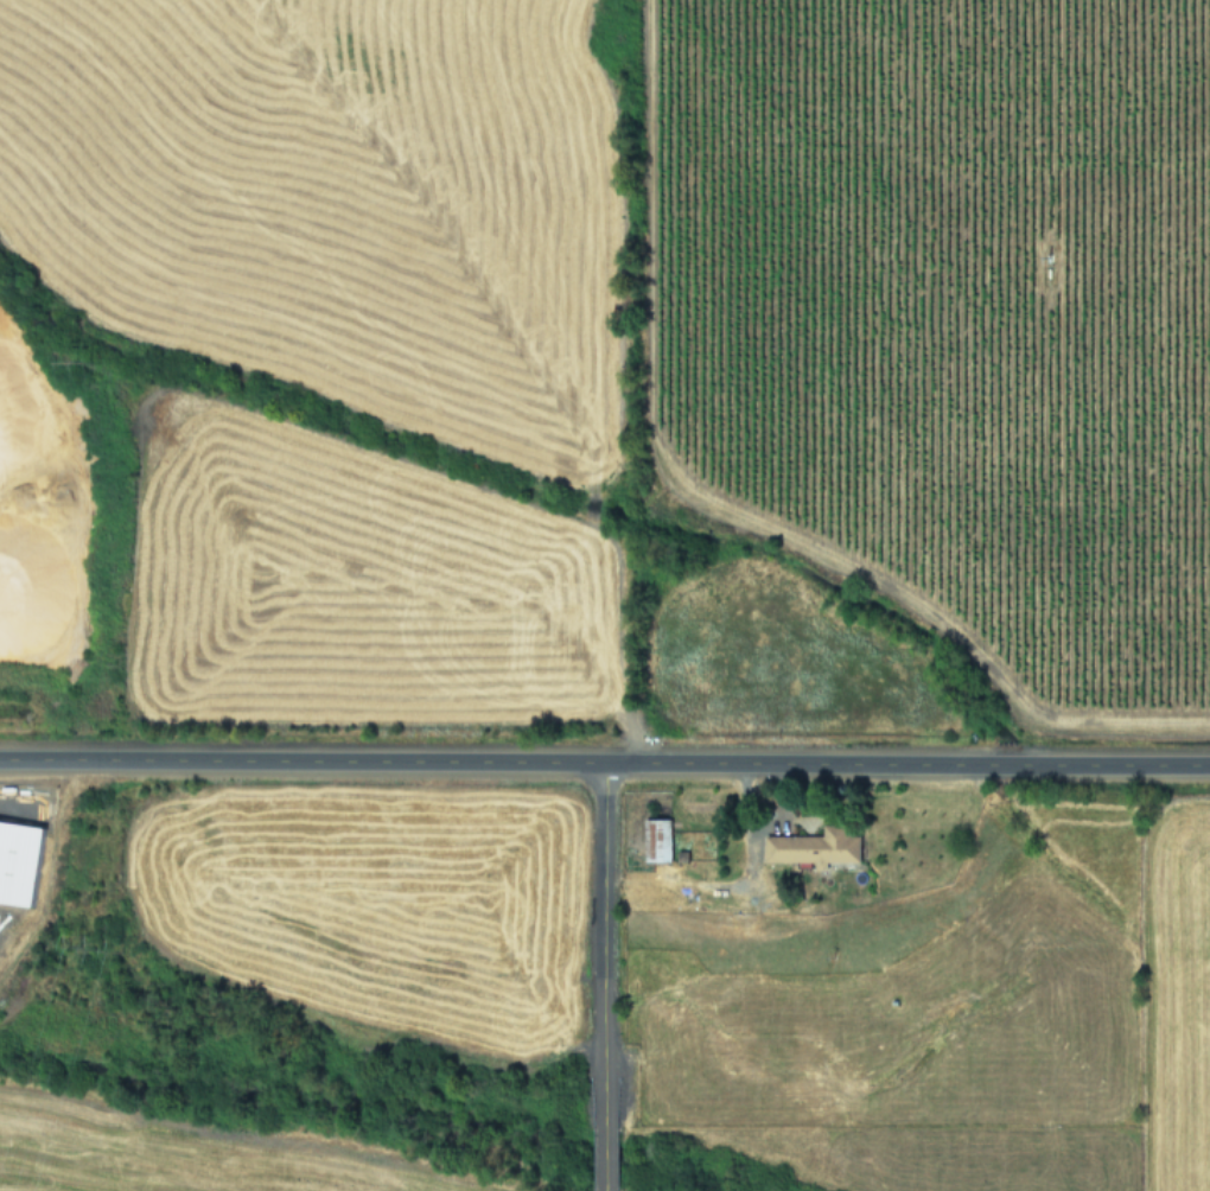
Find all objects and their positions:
power tower: (76, 357)
crop: (605, 595)
road: (604, 763)
building: (654, 840)
building: (811, 847)
building: (15, 864)
road: (601, 945)
power tower: (89, 949)
road: (603, 1158)
road: (603, 1190)

